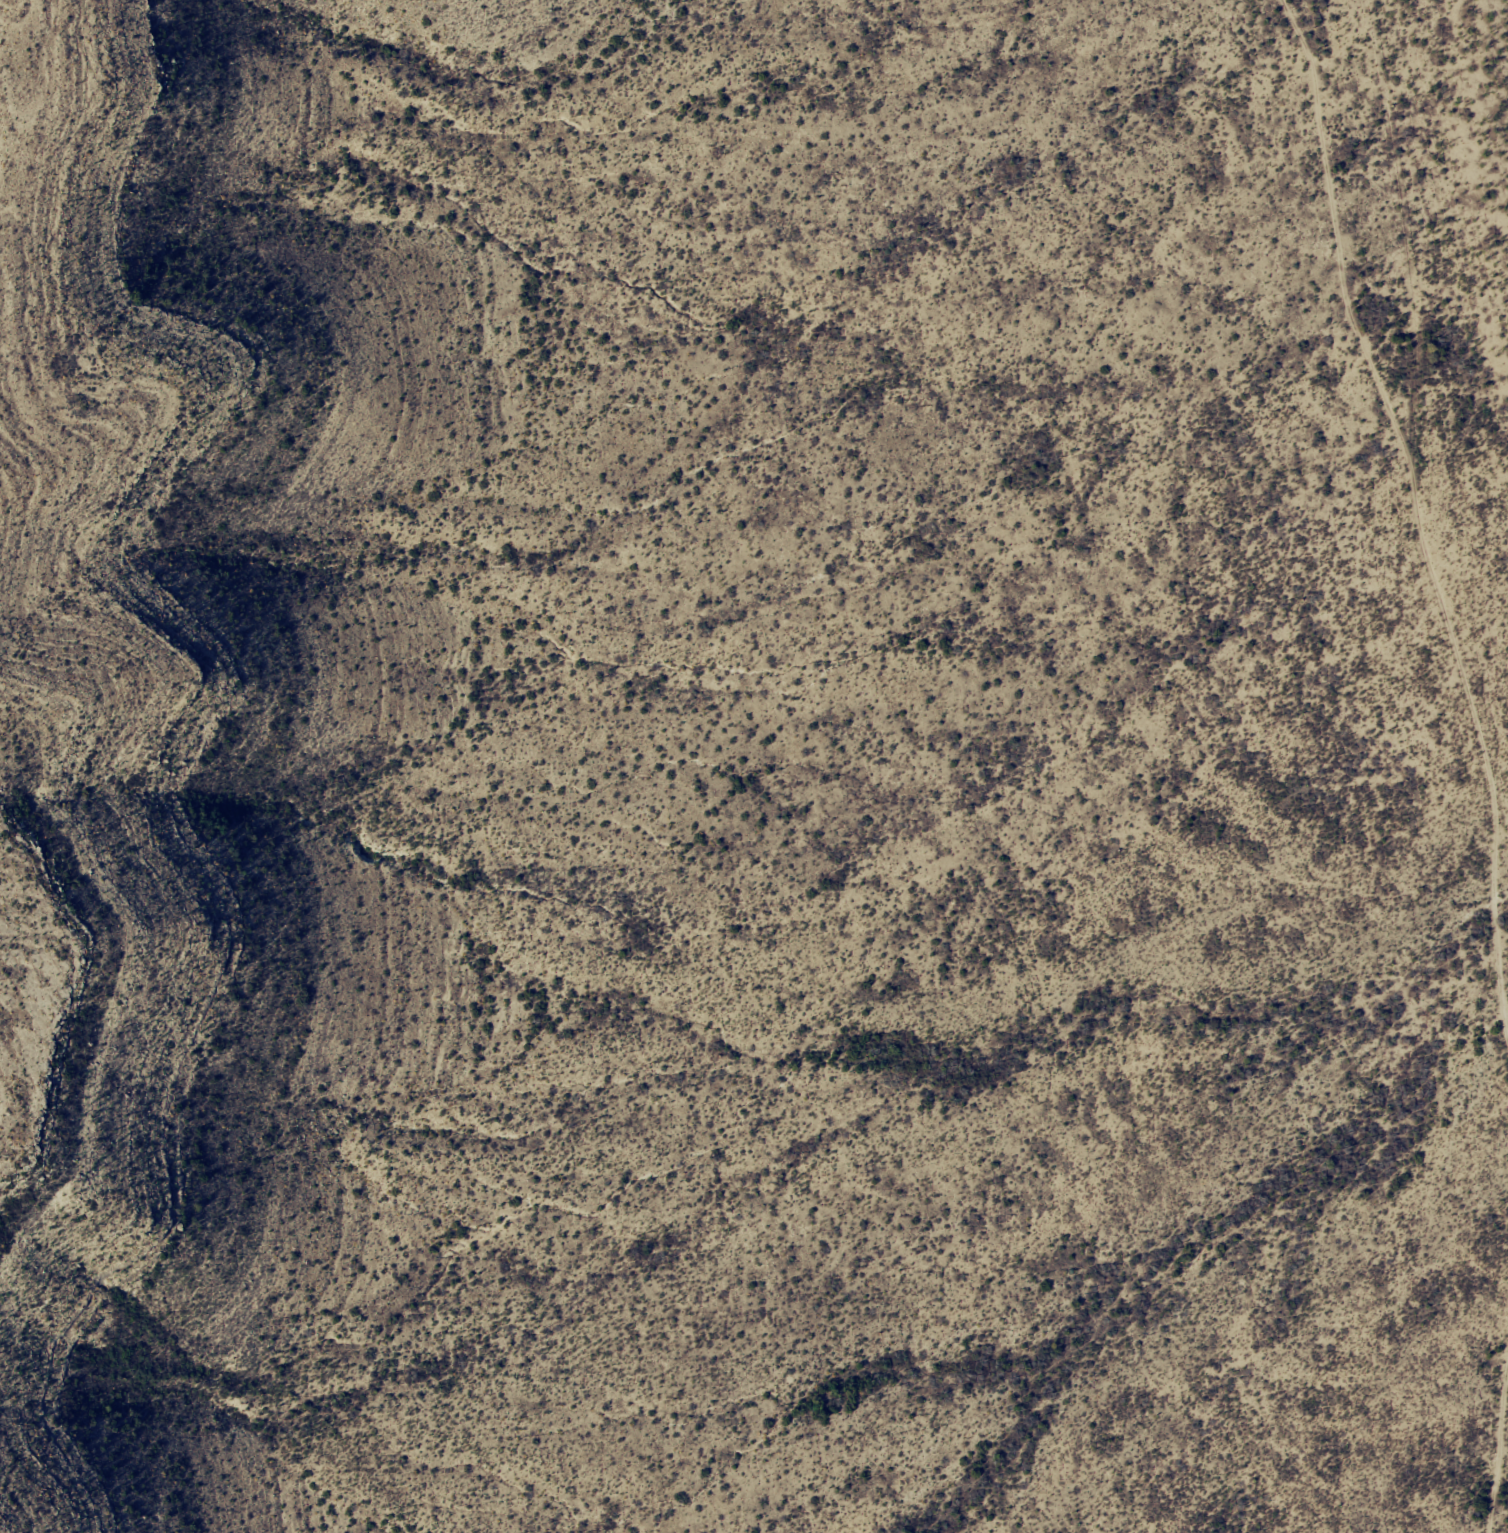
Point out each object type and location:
road: (1438, 434)
road: (1500, 1477)

